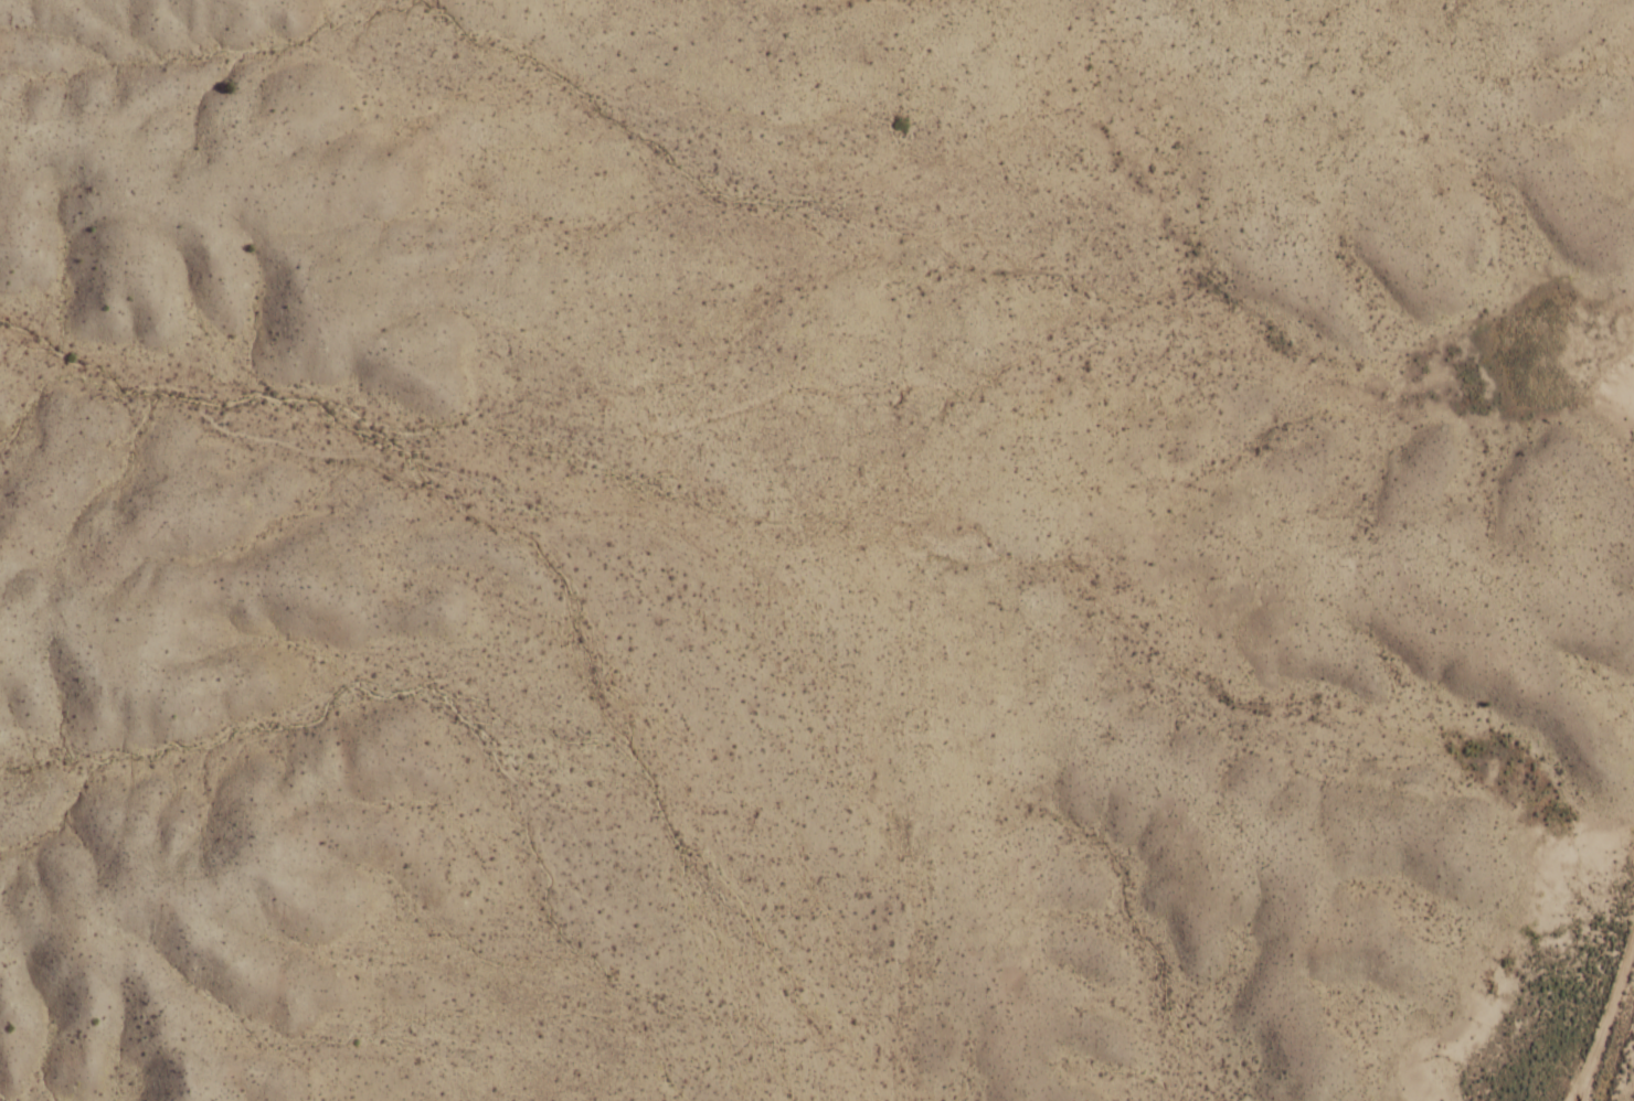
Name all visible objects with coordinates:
road: (1603, 1014)

